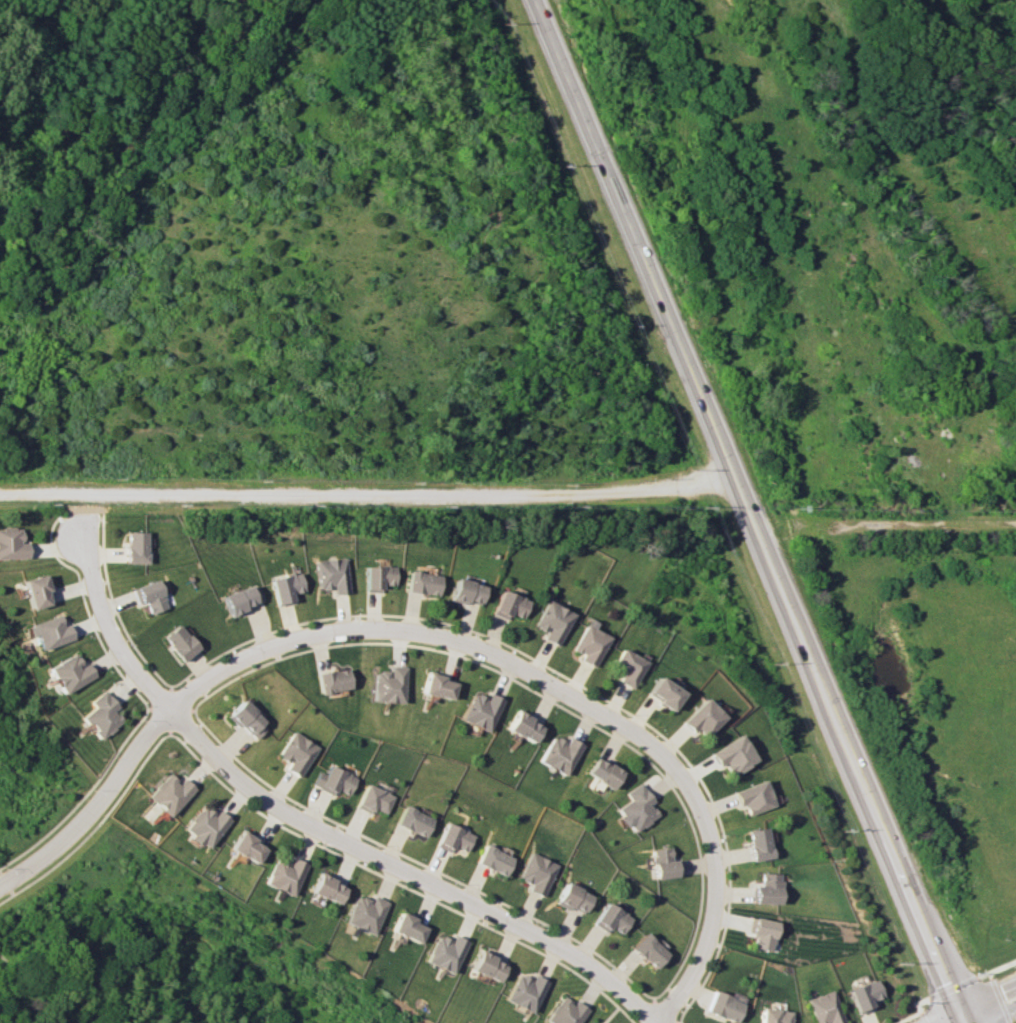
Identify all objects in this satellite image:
road: (370, 493)
road: (754, 510)
building: (12, 543)
building: (137, 546)
building: (333, 574)
building: (379, 577)
building: (423, 582)
building: (287, 587)
building: (36, 591)
building: (467, 591)
building: (151, 596)
building: (243, 598)
building: (509, 605)
building: (553, 621)
road: (113, 630)
building: (49, 631)
road: (453, 641)
building: (181, 642)
building: (590, 644)
building: (629, 667)
building: (70, 672)
building: (334, 680)
building: (389, 684)
building: (438, 686)
building: (664, 693)
building: (481, 710)
building: (102, 714)
building: (703, 717)
building: (249, 719)
building: (524, 726)
building: (298, 753)
building: (560, 753)
building: (734, 755)
building: (602, 772)
building: (336, 780)
building: (171, 793)
building: (754, 797)
building: (376, 799)
road: (94, 805)
building: (635, 808)
building: (415, 821)
building: (206, 825)
building: (454, 838)
building: (759, 843)
building: (248, 847)
building: (494, 859)
building: (663, 863)
road: (413, 868)
building: (538, 873)
building: (286, 874)
building: (328, 888)
building: (768, 889)
building: (574, 898)
building: (365, 913)
building: (612, 919)
road: (716, 923)
building: (407, 927)
building: (763, 933)
building: (649, 950)
building: (444, 952)
building: (487, 966)
building: (525, 991)
building: (863, 995)
road: (988, 996)
building: (724, 1006)
building: (824, 1008)
road: (616, 1009)
building: (565, 1011)
road: (990, 1011)
building: (774, 1016)
road: (954, 1018)

